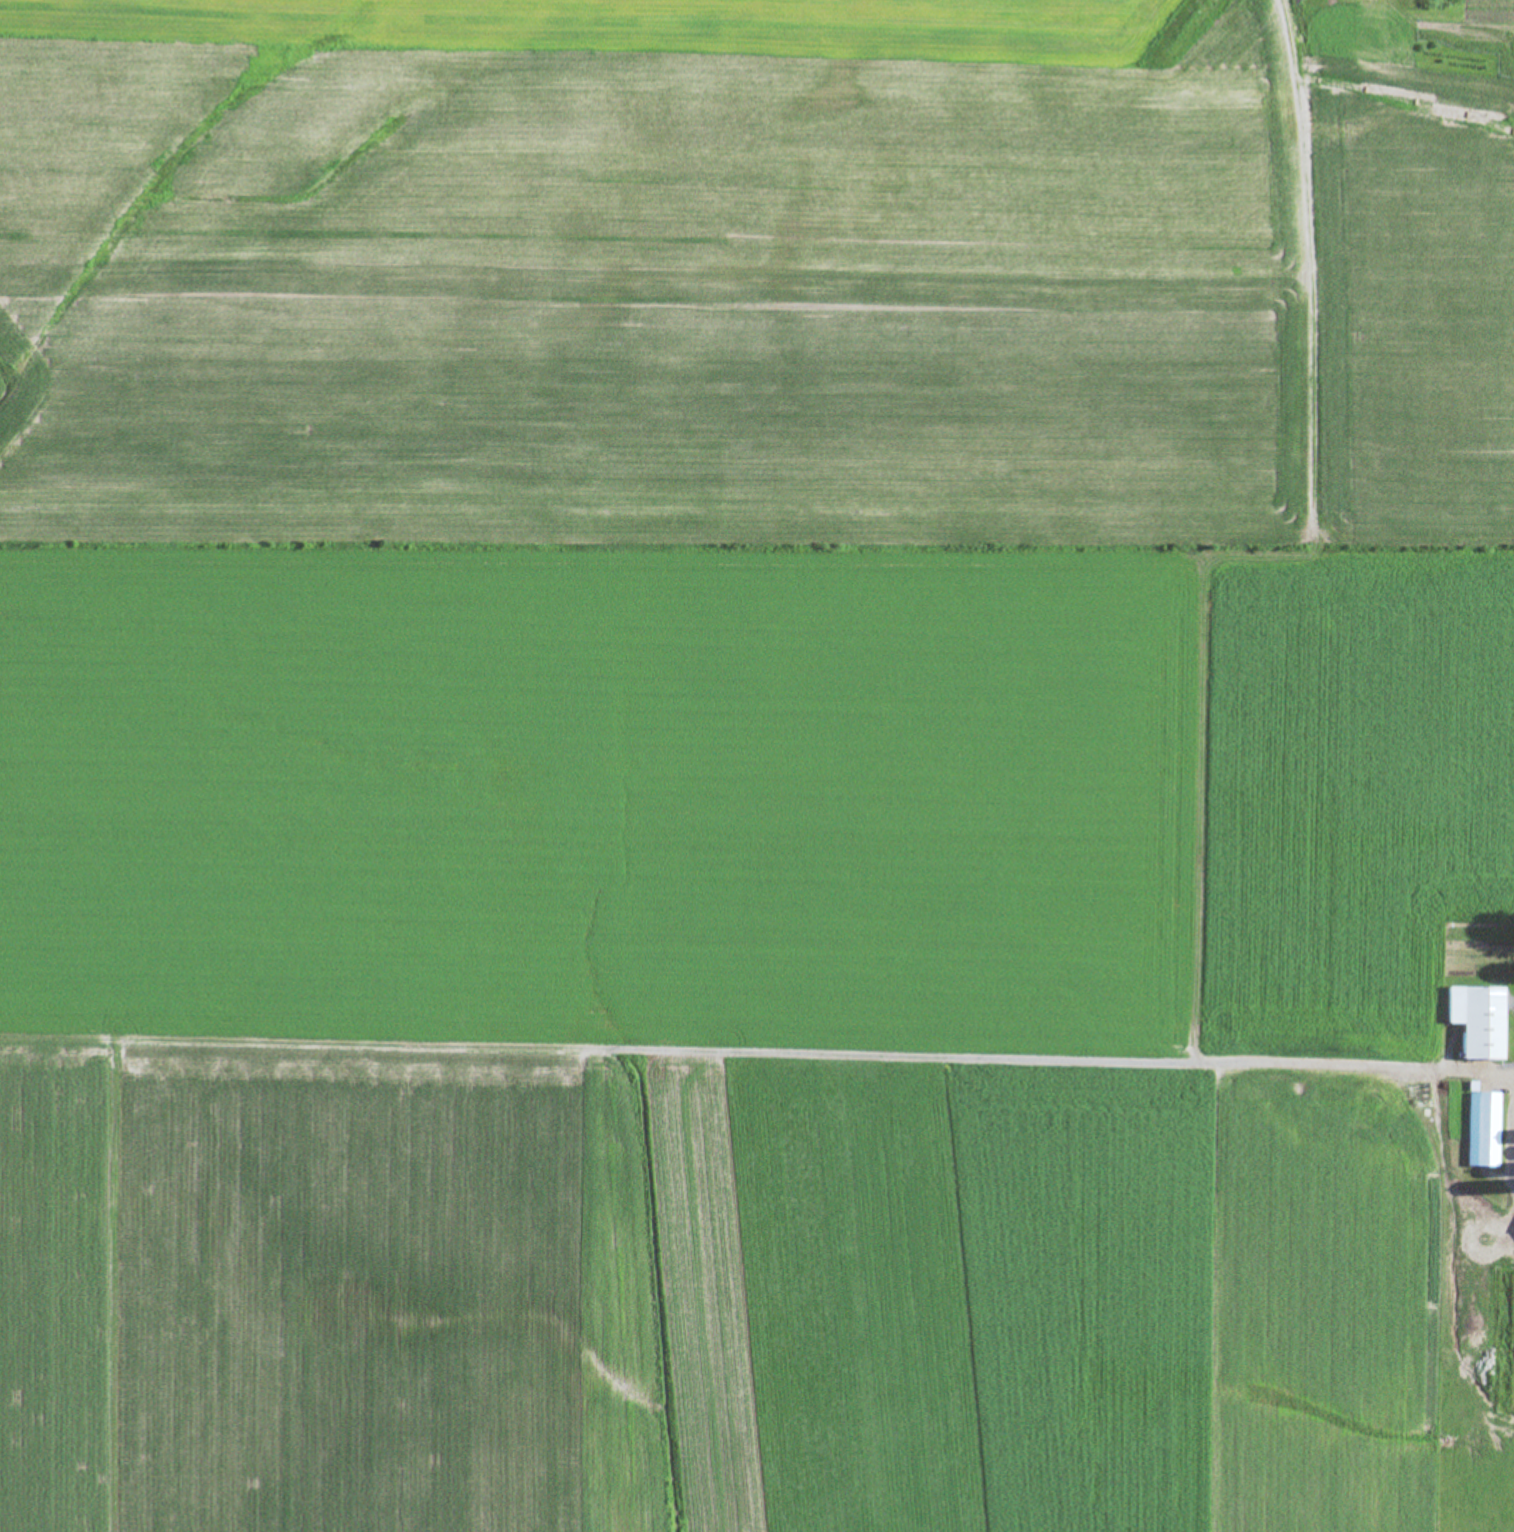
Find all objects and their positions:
building: (1403, 17)
building: (1373, 48)
building: (1476, 1020)
building: (1485, 1129)

